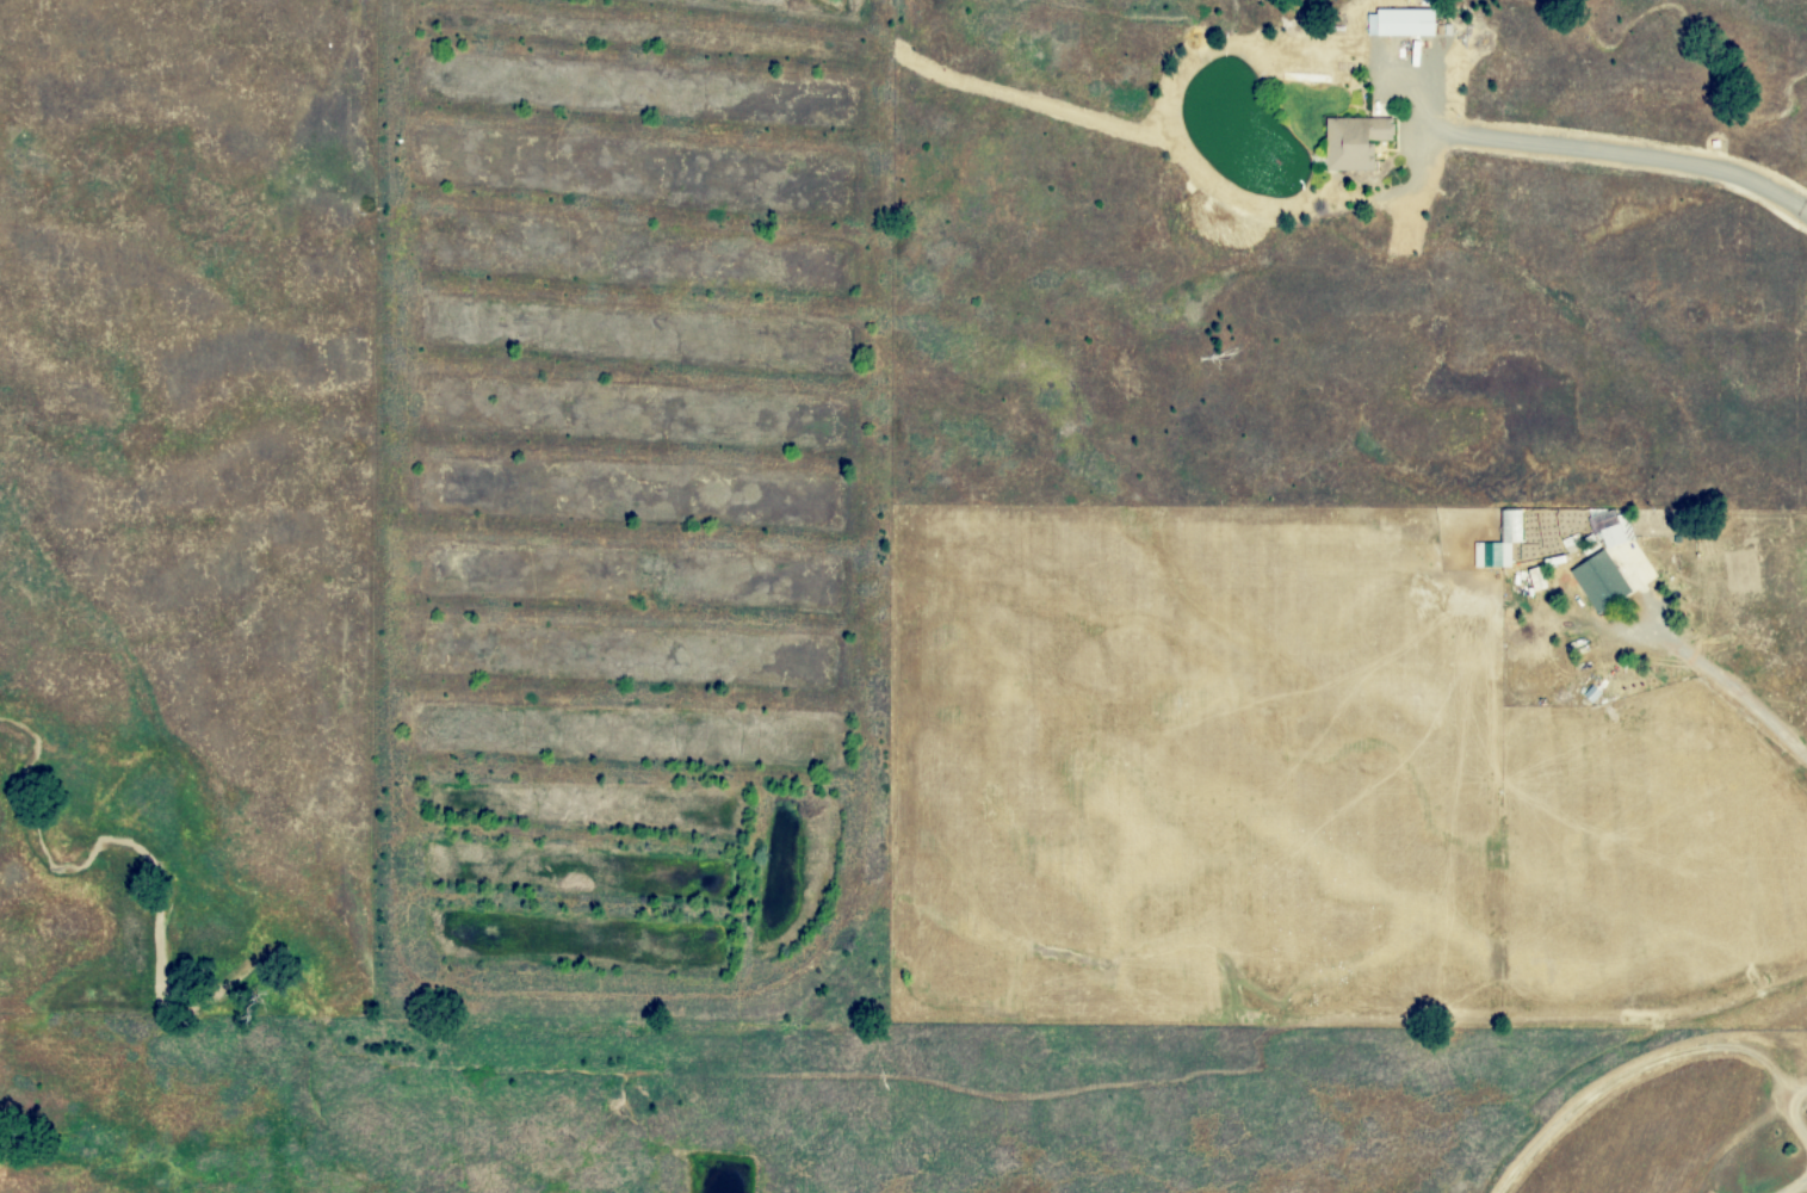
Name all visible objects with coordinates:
building: (1401, 23)
building: (1354, 142)
road: (887, 279)
building: (1499, 543)
building: (1602, 567)
road: (389, 682)
road: (1732, 685)
building: (1591, 694)
road: (1786, 1098)
road: (1783, 1179)

